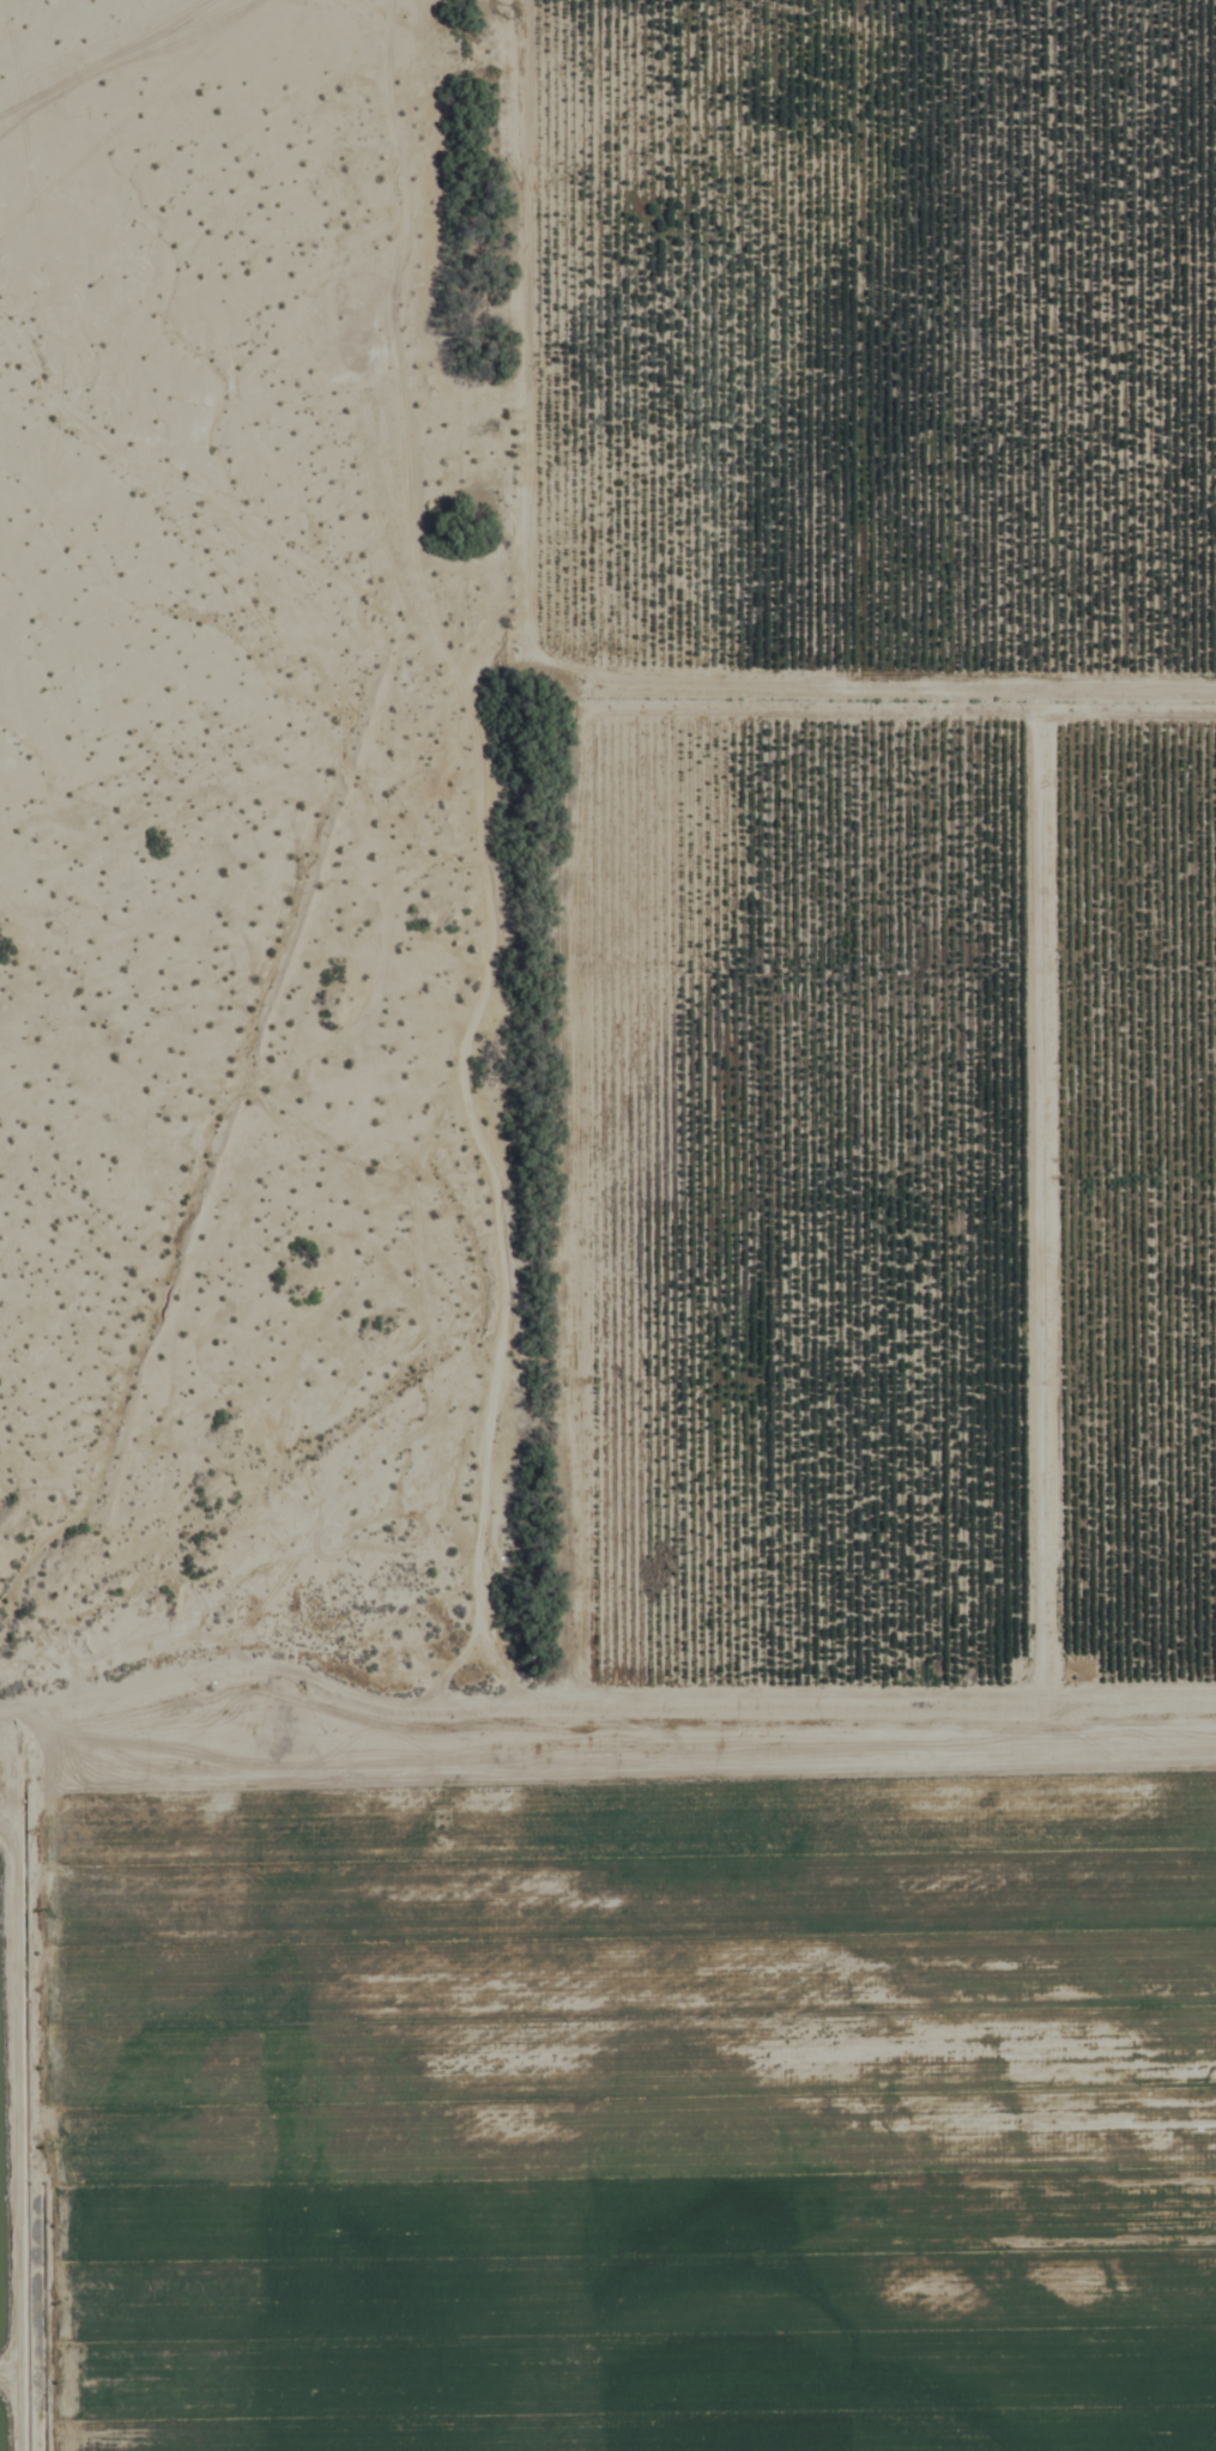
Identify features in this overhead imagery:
crop: (755, 1376)

